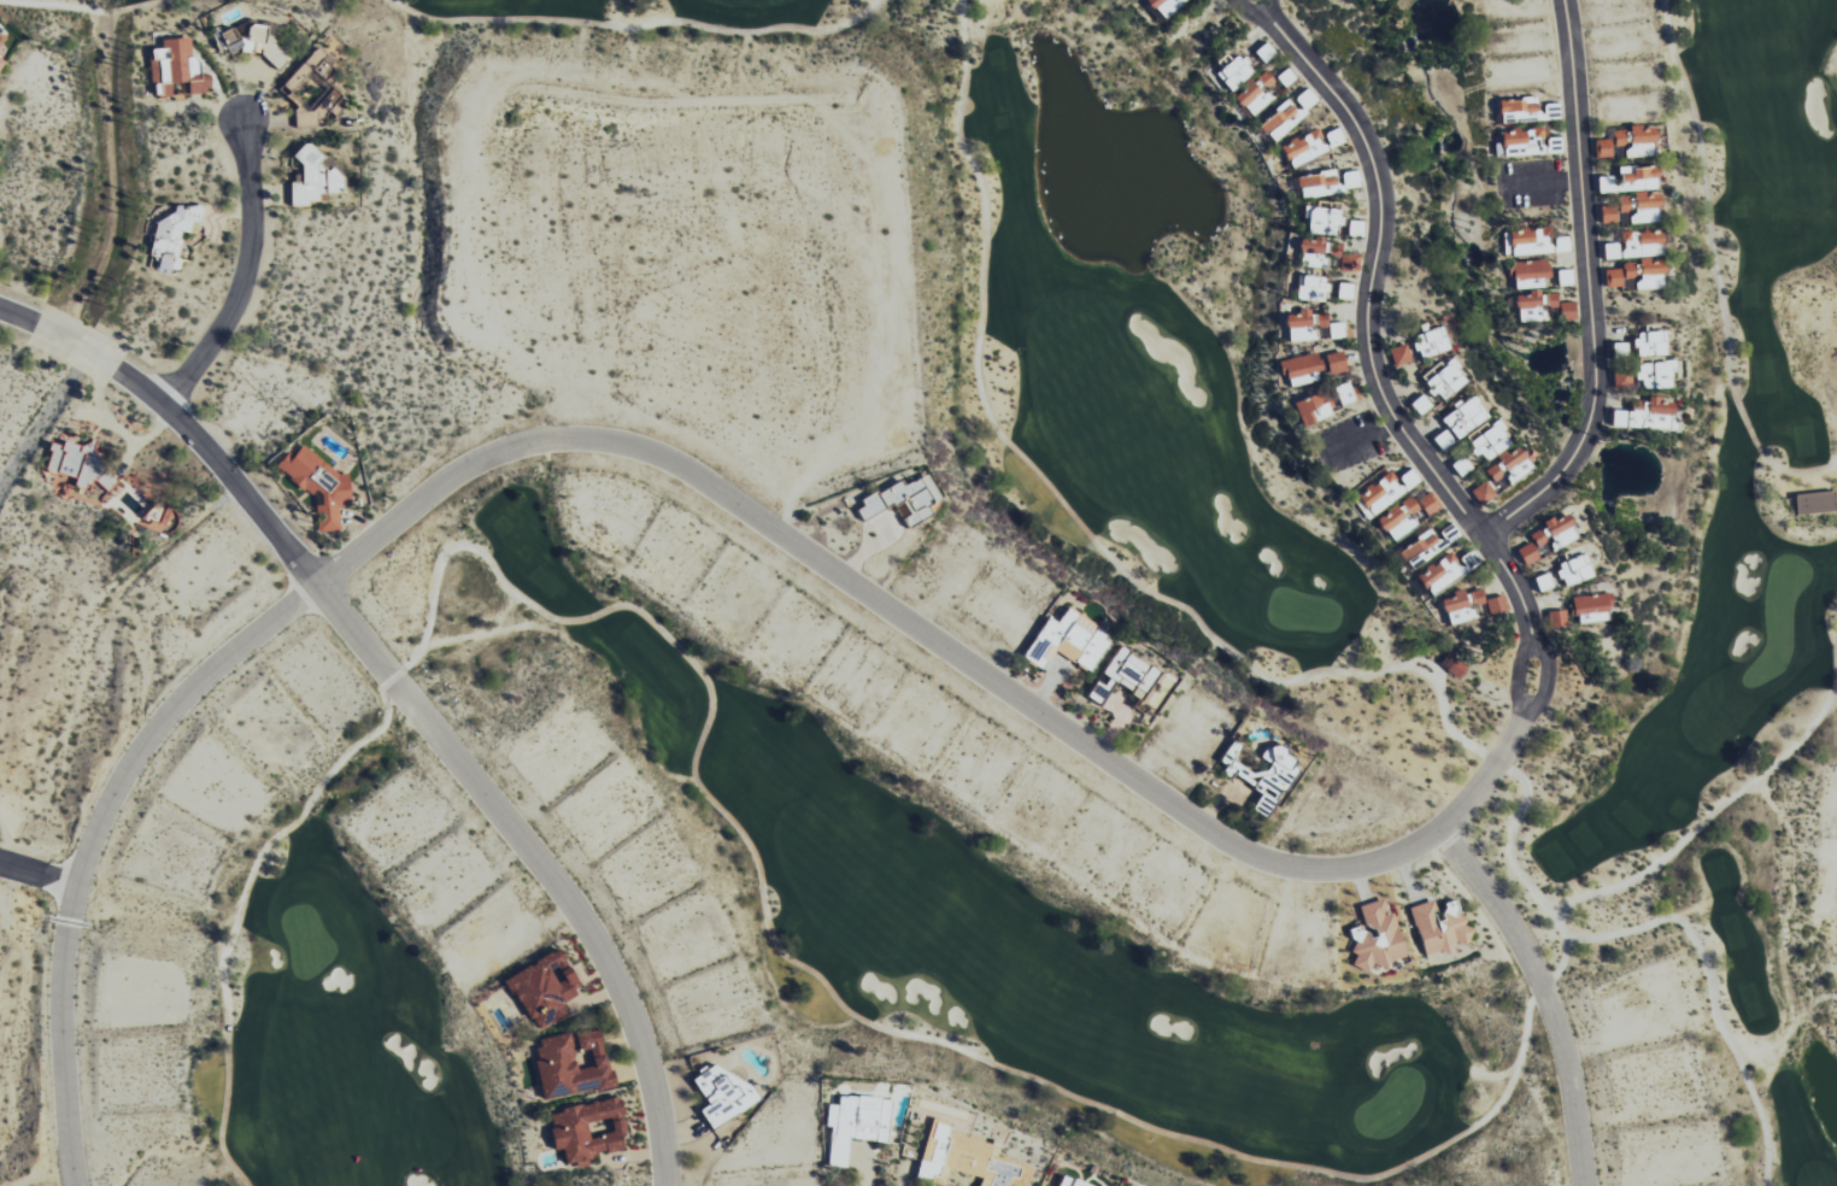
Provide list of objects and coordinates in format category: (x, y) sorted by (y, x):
building: (1163, 6)
park: (78, 10)
building: (260, 42)
building: (0, 49)
building: (1264, 52)
building: (0, 60)
building: (176, 66)
building: (1233, 71)
building: (1285, 77)
building: (316, 89)
building: (1255, 94)
building: (1305, 99)
building: (1518, 108)
building: (1280, 121)
building: (1333, 137)
building: (1620, 137)
building: (1641, 141)
building: (1519, 142)
building: (1303, 148)
building: (1603, 148)
building: (309, 176)
building: (1351, 178)
building: (1631, 180)
building: (1317, 183)
building: (1633, 210)
building: (1321, 219)
building: (1355, 228)
building: (168, 229)
building: (1528, 241)
building: (1643, 242)
building: (1561, 243)
building: (1612, 251)
building: (1630, 270)
building: (1651, 272)
building: (1530, 274)
road: (243, 276)
building: (1565, 277)
building: (1613, 277)
building: (1310, 287)
building: (1344, 290)
road: (1590, 290)
building: (1566, 311)
road: (933, 318)
building: (1298, 325)
building: (1327, 327)
building: (1430, 342)
building: (1620, 348)
building: (1399, 354)
building: (1643, 358)
building: (1334, 363)
building: (1301, 369)
building: (1622, 378)
building: (1444, 380)
building: (1343, 393)
building: (1420, 404)
building: (1311, 409)
building: (1463, 417)
road: (43, 421)
building: (1442, 440)
building: (1487, 442)
building: (70, 456)
building: (1459, 466)
building: (1507, 468)
building: (312, 481)
building: (1385, 489)
building: (1483, 492)
building: (900, 493)
building: (1428, 503)
building: (1815, 503)
building: (1397, 518)
building: (1555, 532)
building: (1427, 545)
building: (1527, 553)
building: (1574, 570)
building: (1542, 582)
park: (1270, 594)
building: (1496, 604)
building: (1463, 605)
building: (1591, 607)
park: (1299, 616)
building: (1556, 618)
park: (1777, 618)
building: (1066, 635)
building: (1122, 670)
road: (981, 673)
road: (405, 695)
building: (1258, 771)
building: (1436, 932)
building: (1373, 940)
park: (304, 944)
building: (538, 985)
road: (1713, 992)
road: (1547, 993)
building: (568, 1063)
building: (722, 1085)
park: (1389, 1111)
building: (859, 1115)
building: (583, 1128)
building: (967, 1149)
building: (1070, 1180)
building: (1043, 1185)

